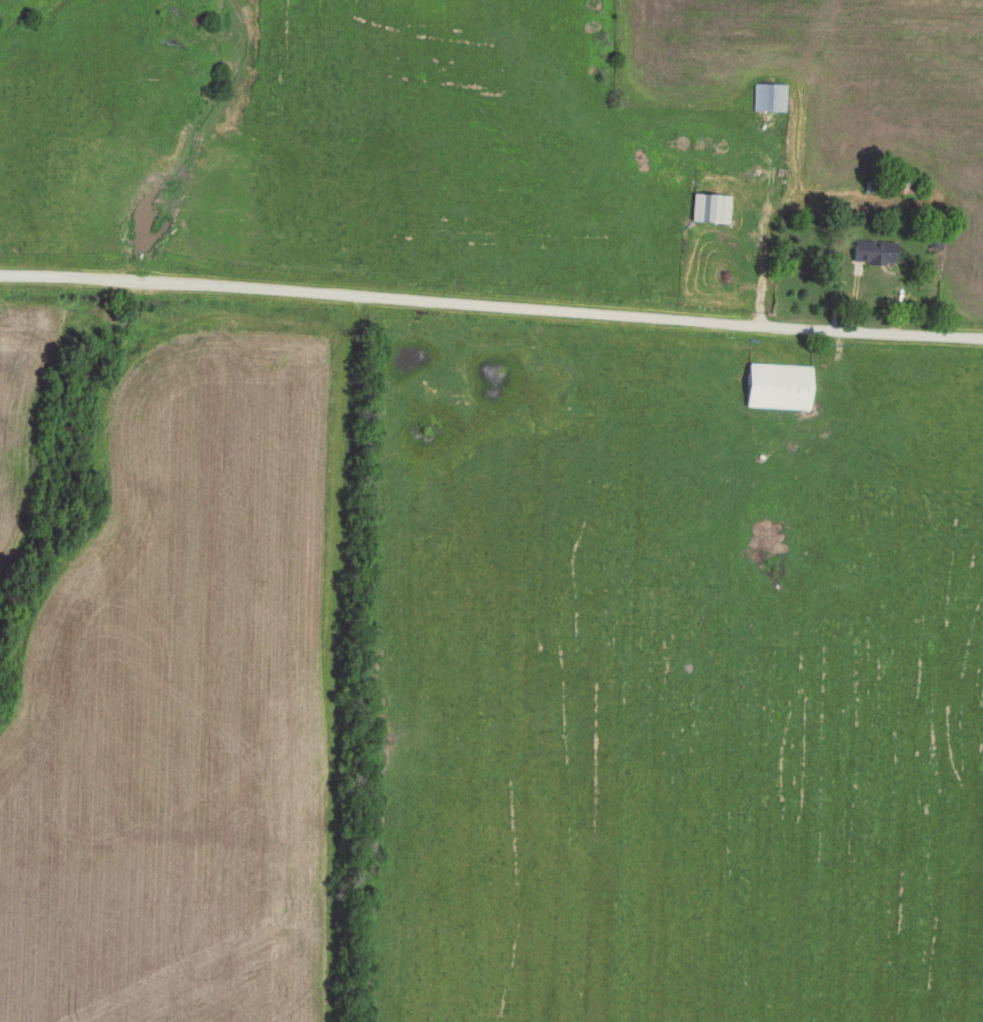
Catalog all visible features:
building: (770, 98)
building: (712, 209)
building: (872, 253)
road: (491, 291)
building: (777, 387)

